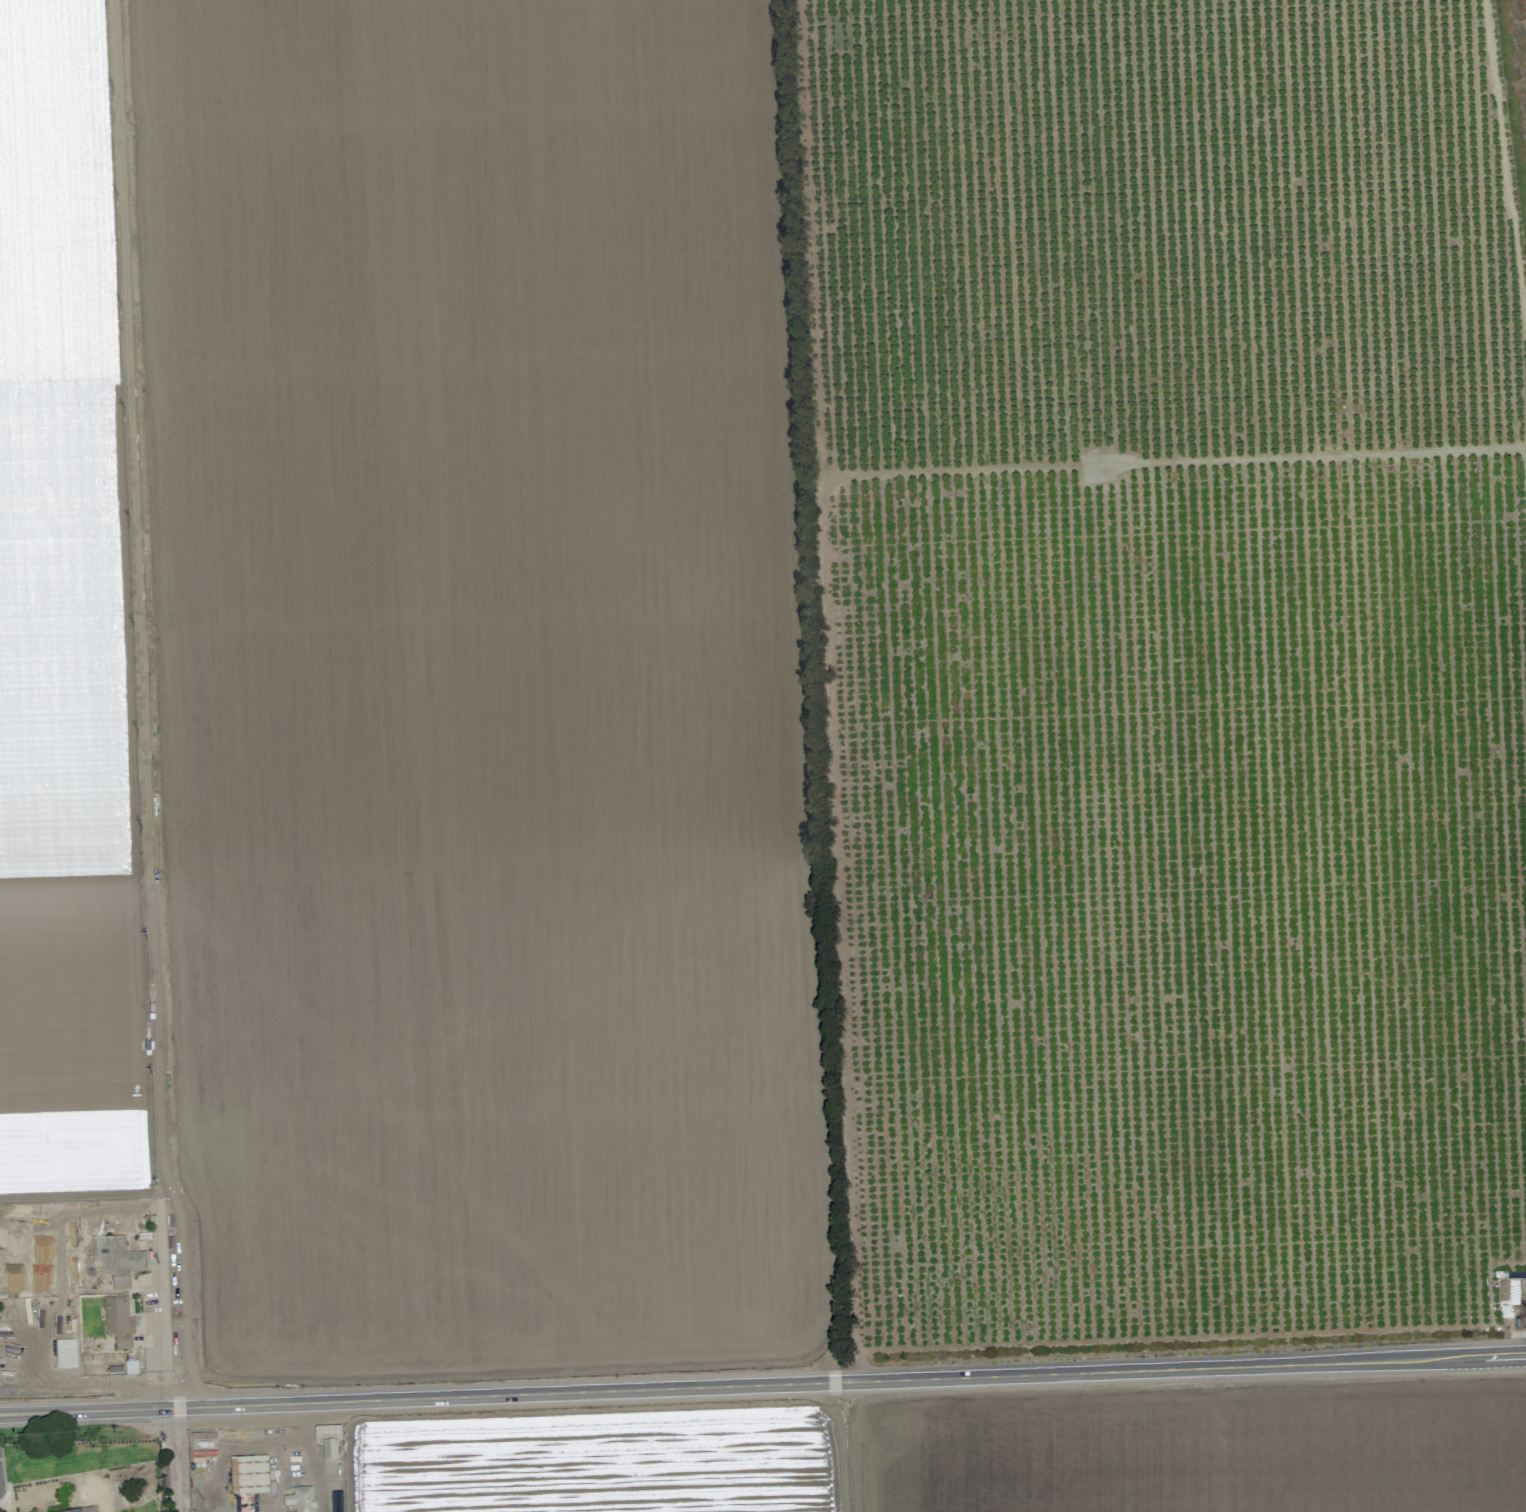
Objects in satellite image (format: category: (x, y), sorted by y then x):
crop: (774, 742)
road: (85, 1199)
building: (107, 1252)
road: (164, 1307)
road: (1522, 1313)
road: (1519, 1335)
building: (65, 1349)
road: (762, 1379)
road: (84, 1388)
road: (841, 1444)
road: (174, 1457)
park: (81, 1462)
building: (248, 1471)
parking lot: (4, 1478)
road: (1, 1485)
road: (1, 1493)
building: (80, 1509)

